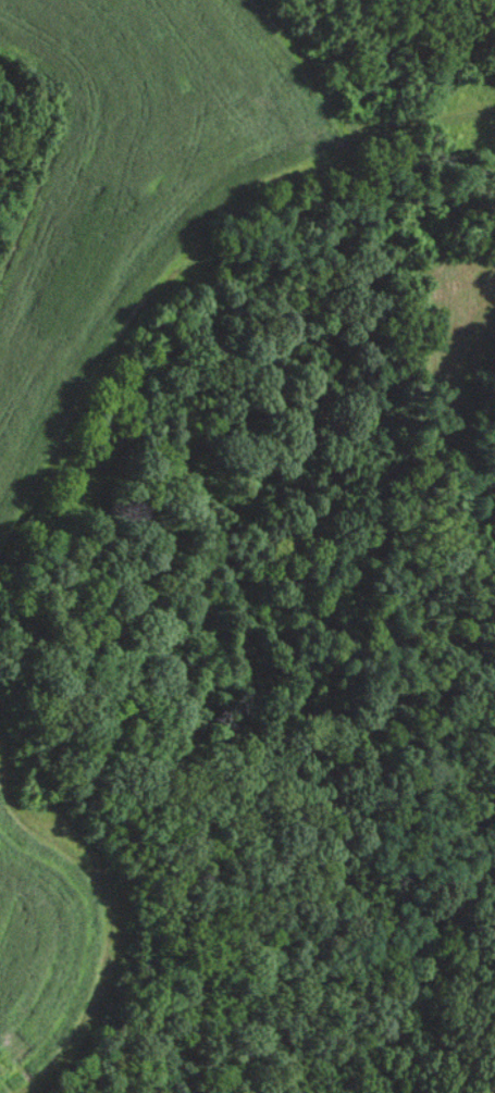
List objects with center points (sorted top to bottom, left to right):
road: (349, 112)
road: (135, 227)

